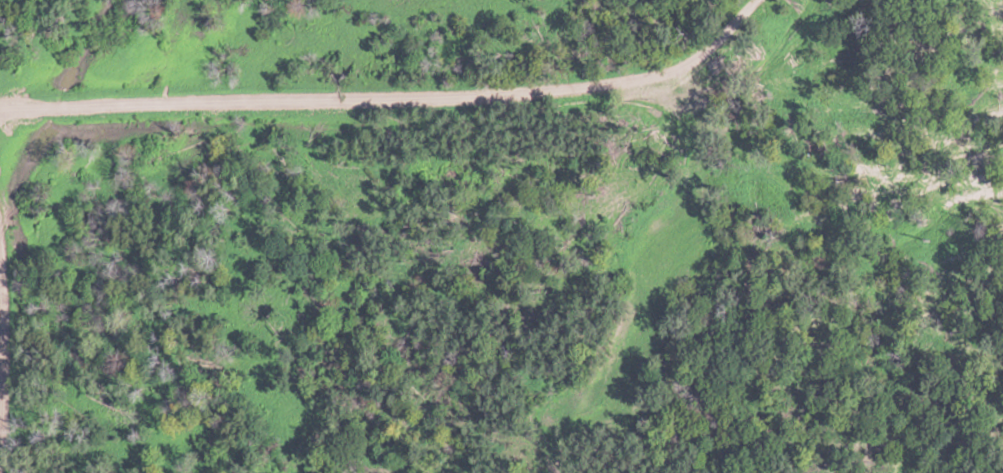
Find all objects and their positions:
road: (400, 94)
road: (20, 267)

